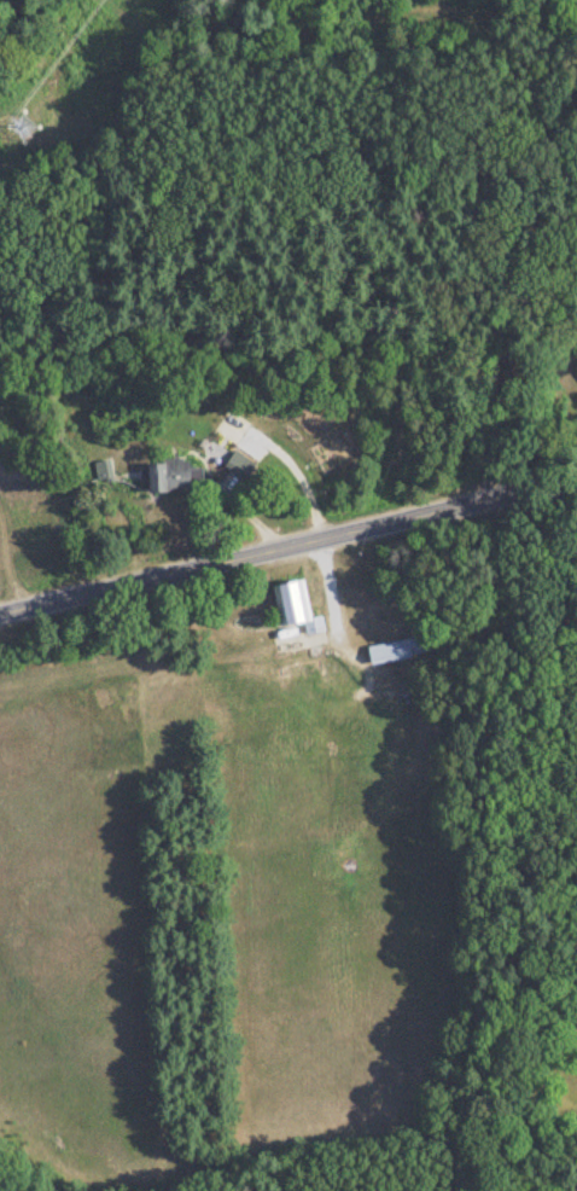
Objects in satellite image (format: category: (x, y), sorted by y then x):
power tower: (22, 124)
building: (237, 467)
building: (167, 477)
road: (288, 548)
building: (291, 608)
building: (396, 651)

